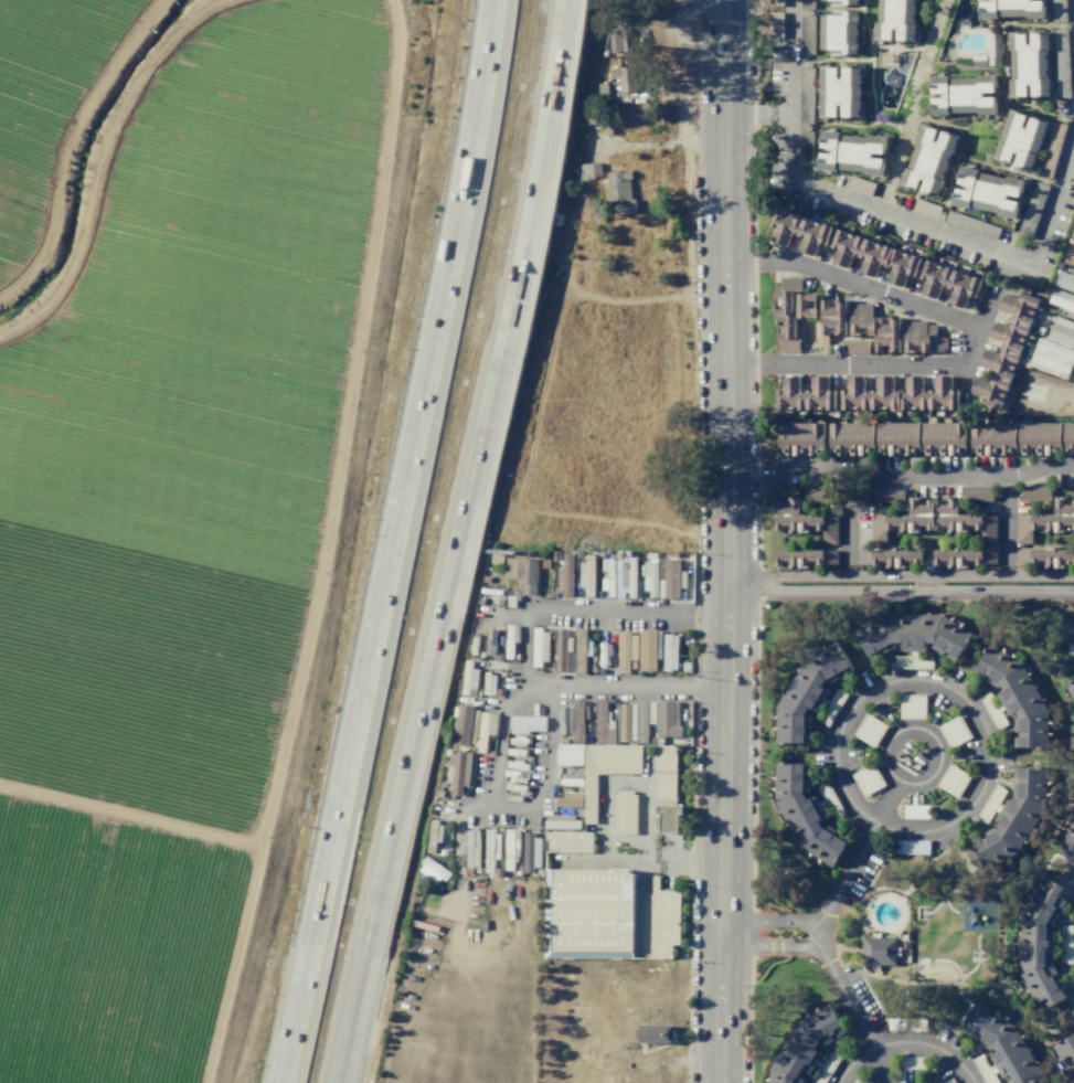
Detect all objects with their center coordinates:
building: (776, 2)
building: (841, 2)
building: (807, 4)
road: (1073, 7)
building: (1011, 8)
building: (1059, 10)
building: (895, 20)
building: (776, 24)
building: (807, 34)
building: (838, 34)
building: (619, 41)
building: (989, 53)
building: (1029, 64)
building: (1062, 64)
building: (624, 78)
road: (790, 87)
building: (839, 91)
building: (806, 95)
building: (963, 95)
road: (915, 105)
road: (746, 114)
road: (779, 115)
building: (1020, 139)
road: (68, 142)
road: (660, 144)
building: (806, 146)
building: (1052, 148)
building: (851, 151)
building: (928, 159)
road: (98, 161)
building: (587, 171)
building: (861, 185)
building: (619, 192)
building: (988, 192)
building: (926, 209)
building: (1033, 209)
building: (971, 225)
building: (798, 229)
building: (1072, 233)
road: (977, 243)
building: (859, 251)
building: (1073, 262)
building: (902, 266)
building: (949, 282)
building: (1065, 282)
building: (790, 284)
building: (1063, 301)
building: (783, 302)
building: (805, 306)
road: (986, 308)
building: (861, 310)
building: (833, 317)
building: (1015, 321)
building: (863, 326)
building: (915, 328)
building: (1062, 331)
building: (785, 333)
road: (975, 333)
building: (887, 335)
building: (935, 339)
building: (917, 343)
building: (858, 347)
building: (1051, 358)
building: (996, 376)
building: (805, 395)
building: (869, 395)
building: (928, 395)
building: (852, 437)
building: (896, 437)
building: (942, 437)
building: (993, 437)
building: (1039, 437)
building: (1067, 437)
building: (800, 438)
road: (793, 467)
road: (1039, 468)
road: (969, 478)
crop: (155, 479)
building: (890, 493)
building: (979, 493)
building: (819, 495)
building: (1035, 495)
building: (922, 506)
building: (947, 506)
building: (1064, 506)
building: (787, 507)
road: (849, 520)
building: (910, 521)
building: (958, 521)
building: (799, 522)
building: (1052, 522)
building: (879, 528)
building: (990, 528)
building: (830, 529)
building: (1024, 529)
road: (727, 541)
road: (395, 542)
road: (455, 542)
road: (322, 544)
building: (830, 555)
building: (989, 555)
building: (799, 556)
building: (865, 556)
building: (897, 556)
building: (959, 556)
building: (1023, 558)
building: (1053, 558)
building: (521, 570)
road: (917, 576)
building: (625, 577)
building: (669, 580)
road: (745, 583)
road: (927, 583)
road: (917, 590)
road: (625, 610)
building: (913, 633)
road: (1072, 633)
building: (581, 639)
building: (1070, 648)
building: (646, 650)
building: (626, 652)
building: (670, 652)
building: (913, 662)
road: (894, 683)
road: (585, 687)
building: (1071, 688)
building: (806, 691)
building: (1018, 697)
building: (912, 707)
building: (831, 708)
building: (991, 710)
building: (644, 719)
building: (667, 719)
building: (603, 722)
building: (626, 722)
building: (462, 725)
building: (869, 731)
road: (901, 731)
building: (953, 731)
building: (573, 739)
building: (606, 769)
building: (460, 773)
building: (663, 775)
building: (866, 779)
building: (953, 781)
building: (829, 799)
building: (567, 800)
road: (887, 804)
building: (990, 804)
building: (624, 813)
building: (915, 813)
building: (804, 814)
building: (668, 817)
building: (1013, 818)
road: (130, 819)
road: (12, 838)
building: (1066, 841)
building: (567, 842)
building: (910, 847)
building: (530, 849)
road: (847, 873)
building: (587, 913)
building: (663, 920)
road: (769, 921)
road: (817, 934)
building: (1039, 944)
building: (1065, 944)
road: (769, 945)
building: (878, 951)
road: (844, 998)
building: (905, 1027)
building: (652, 1033)
road: (905, 1043)
building: (805, 1045)
building: (1065, 1048)
building: (1007, 1049)
building: (908, 1062)
road: (880, 1066)
building: (825, 1068)
building: (983, 1070)
building: (859, 1080)
building: (948, 1081)

